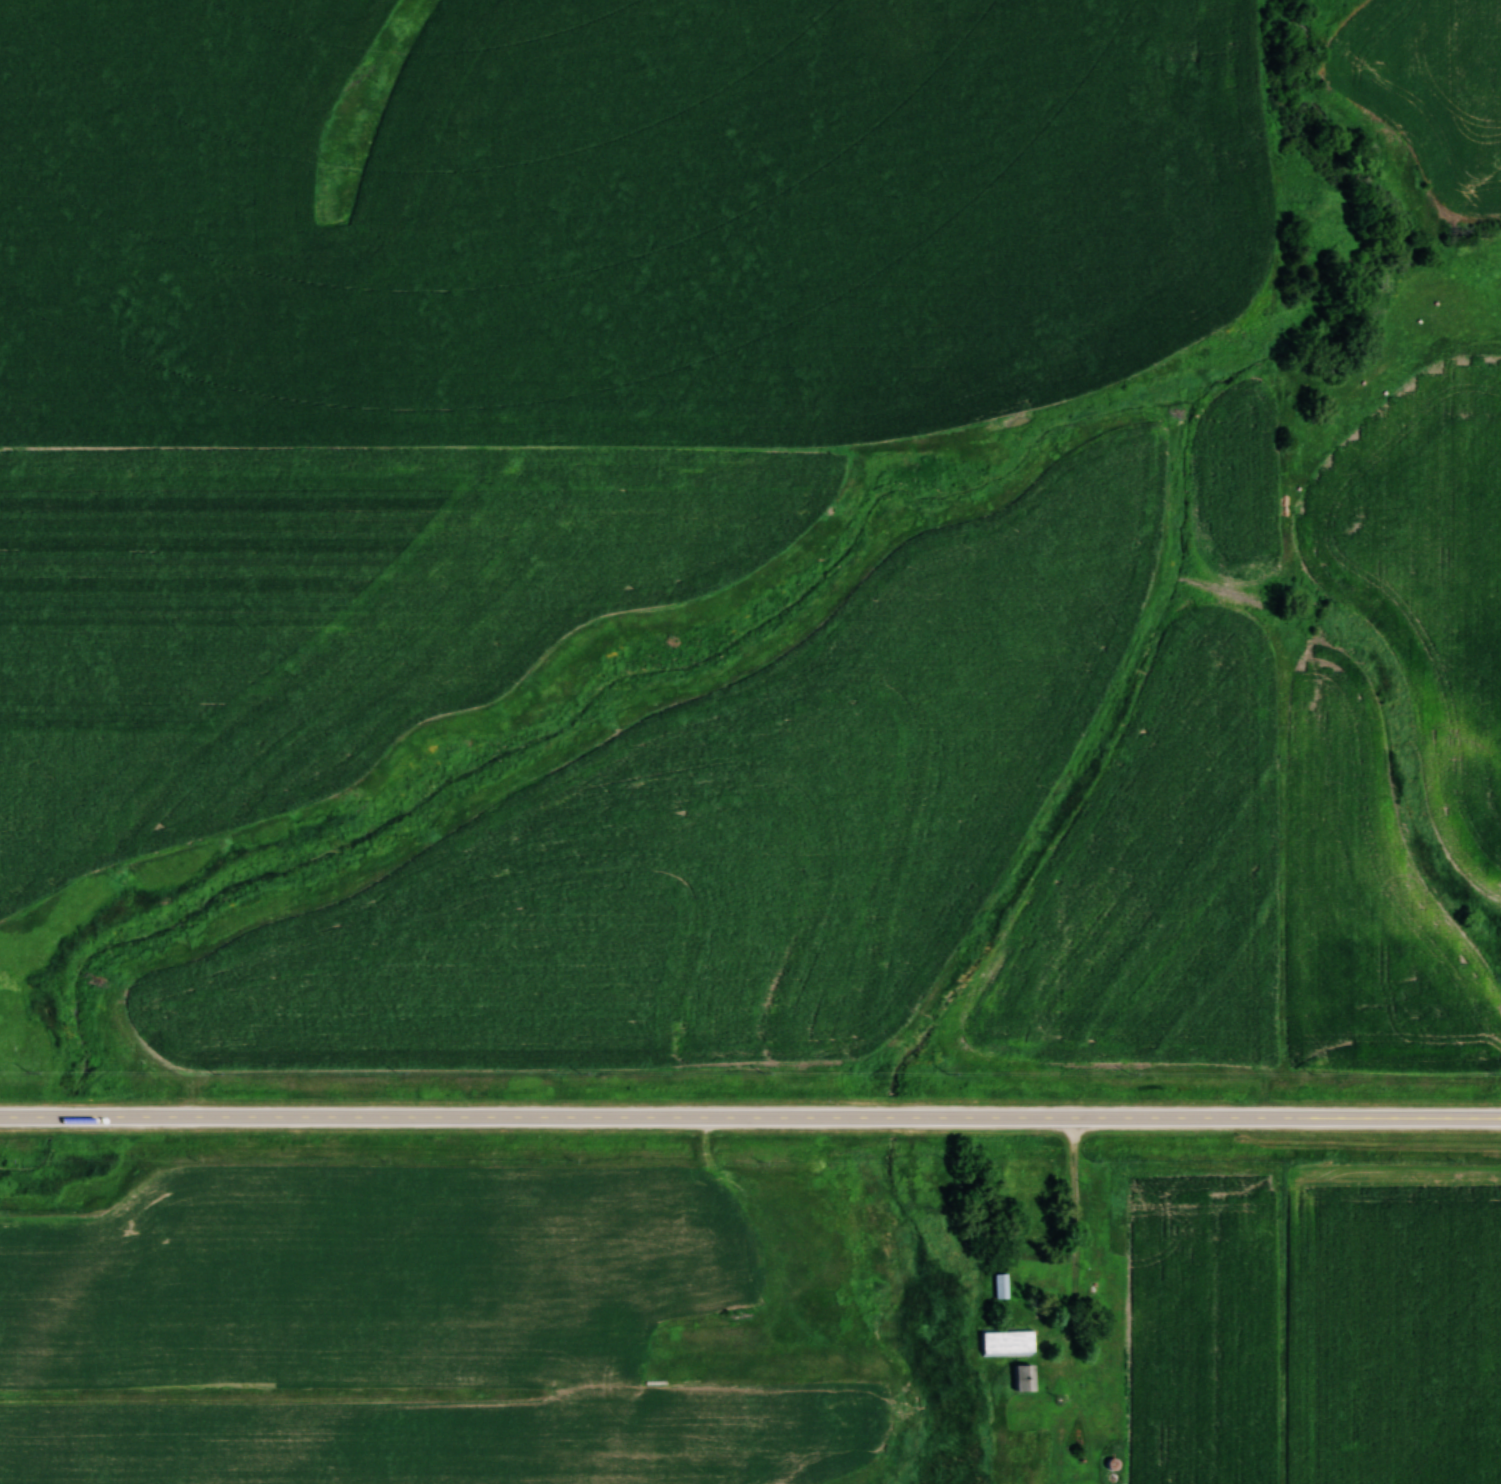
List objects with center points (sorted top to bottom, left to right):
road: (750, 1119)
road: (1077, 1239)
building: (1000, 1286)
building: (1003, 1342)
building: (1021, 1378)

